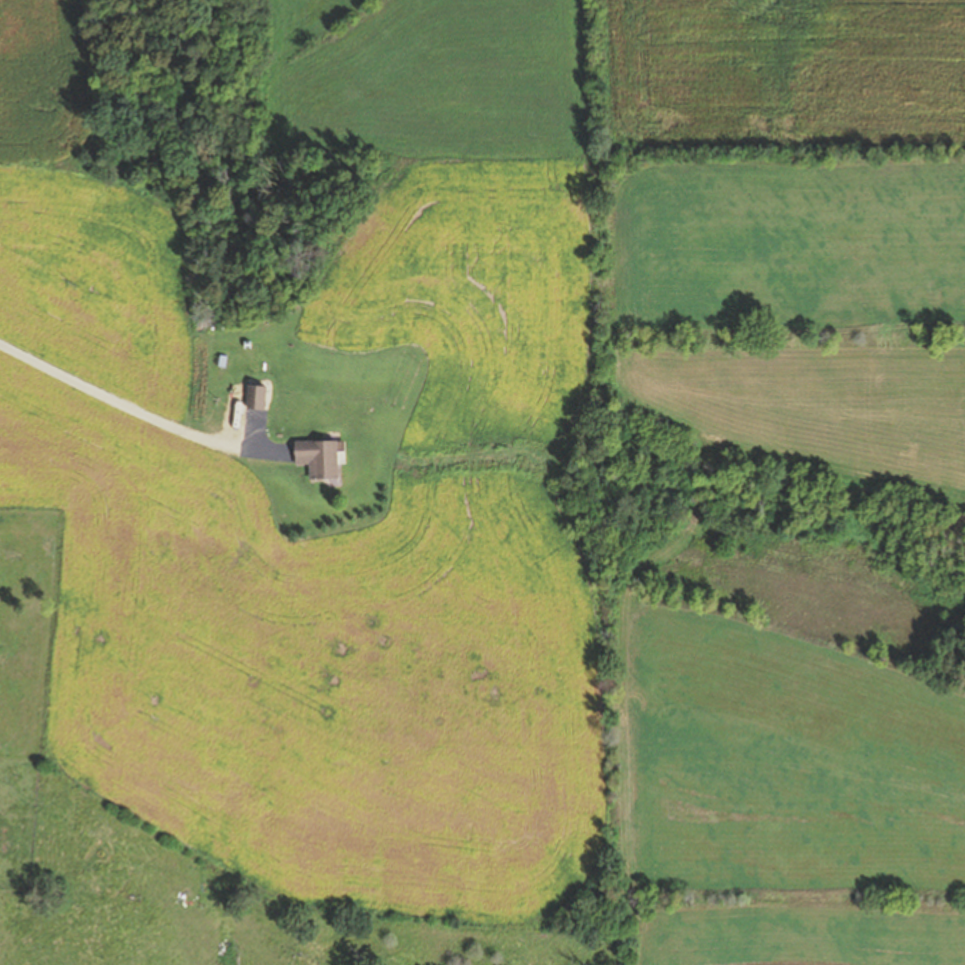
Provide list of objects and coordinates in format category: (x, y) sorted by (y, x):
building: (257, 399)
road: (138, 413)
building: (318, 459)

